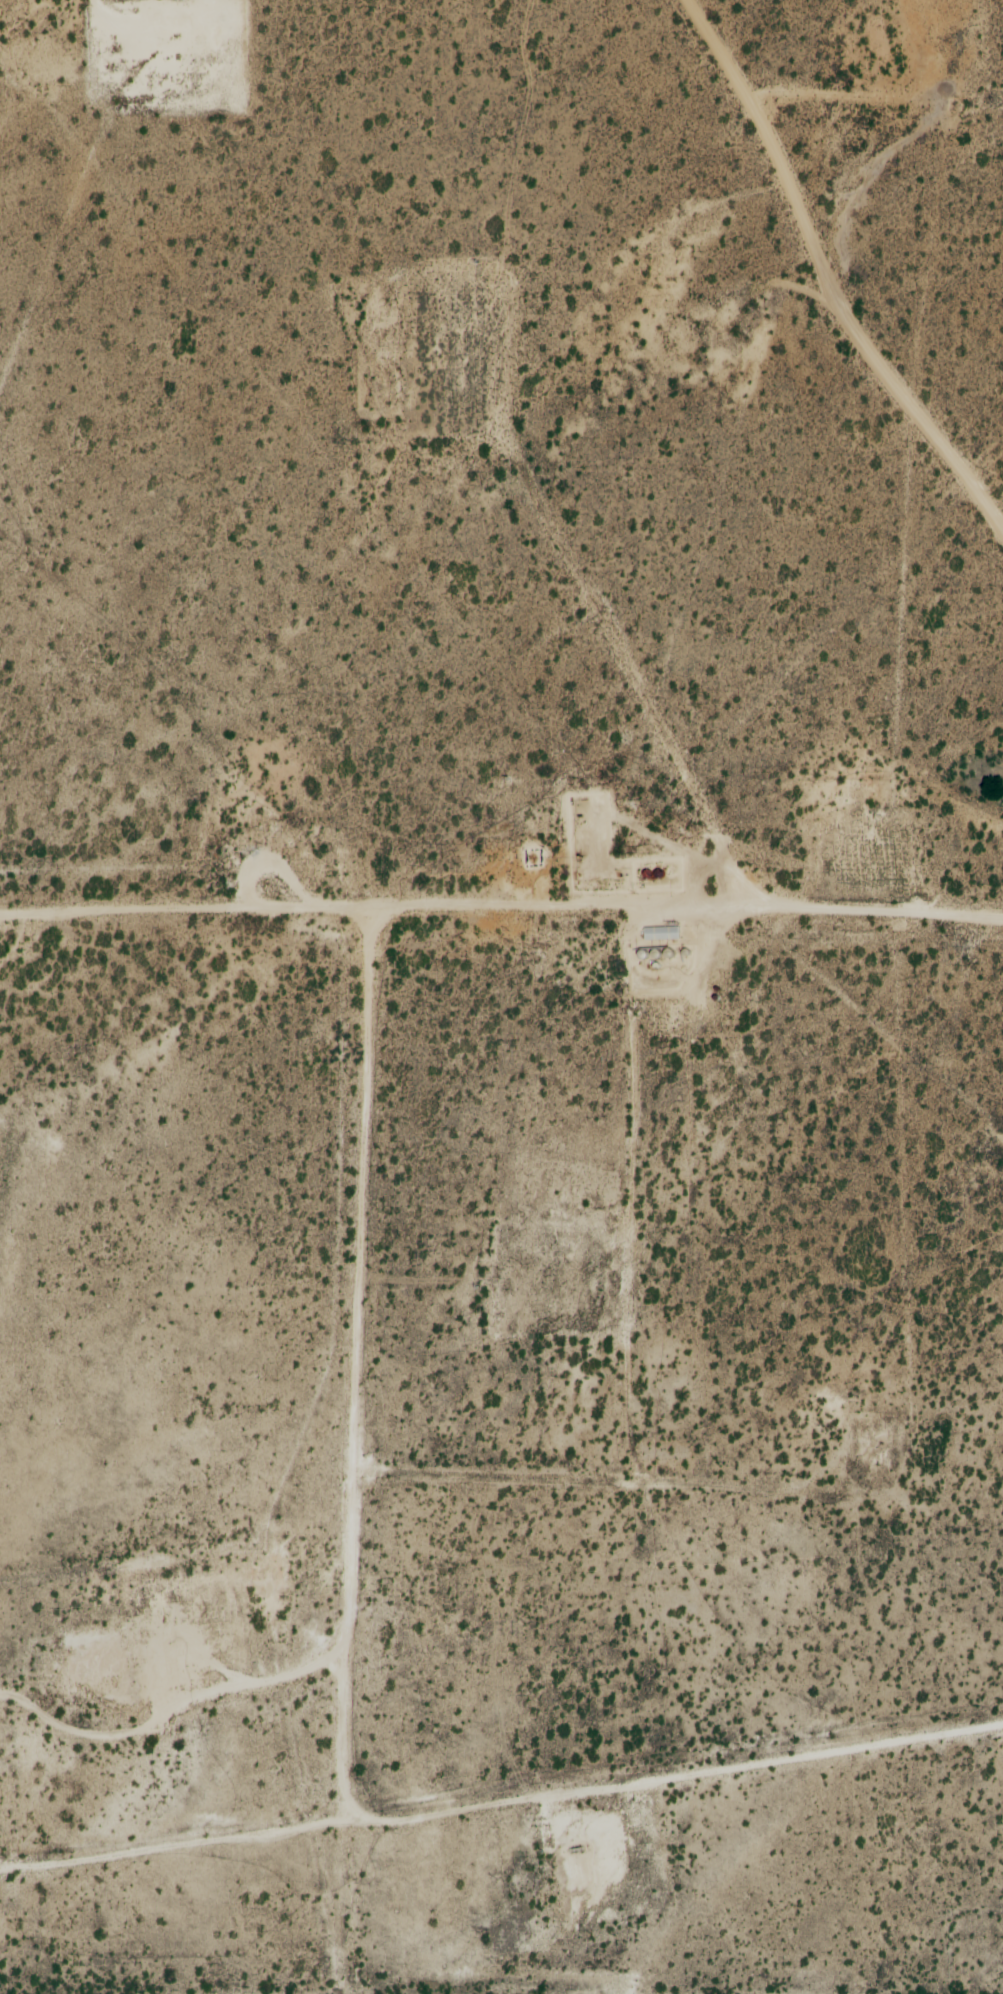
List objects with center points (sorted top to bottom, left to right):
road: (887, 135)
road: (828, 274)
road: (501, 909)
road: (324, 1285)
road: (658, 1350)
road: (450, 1661)

